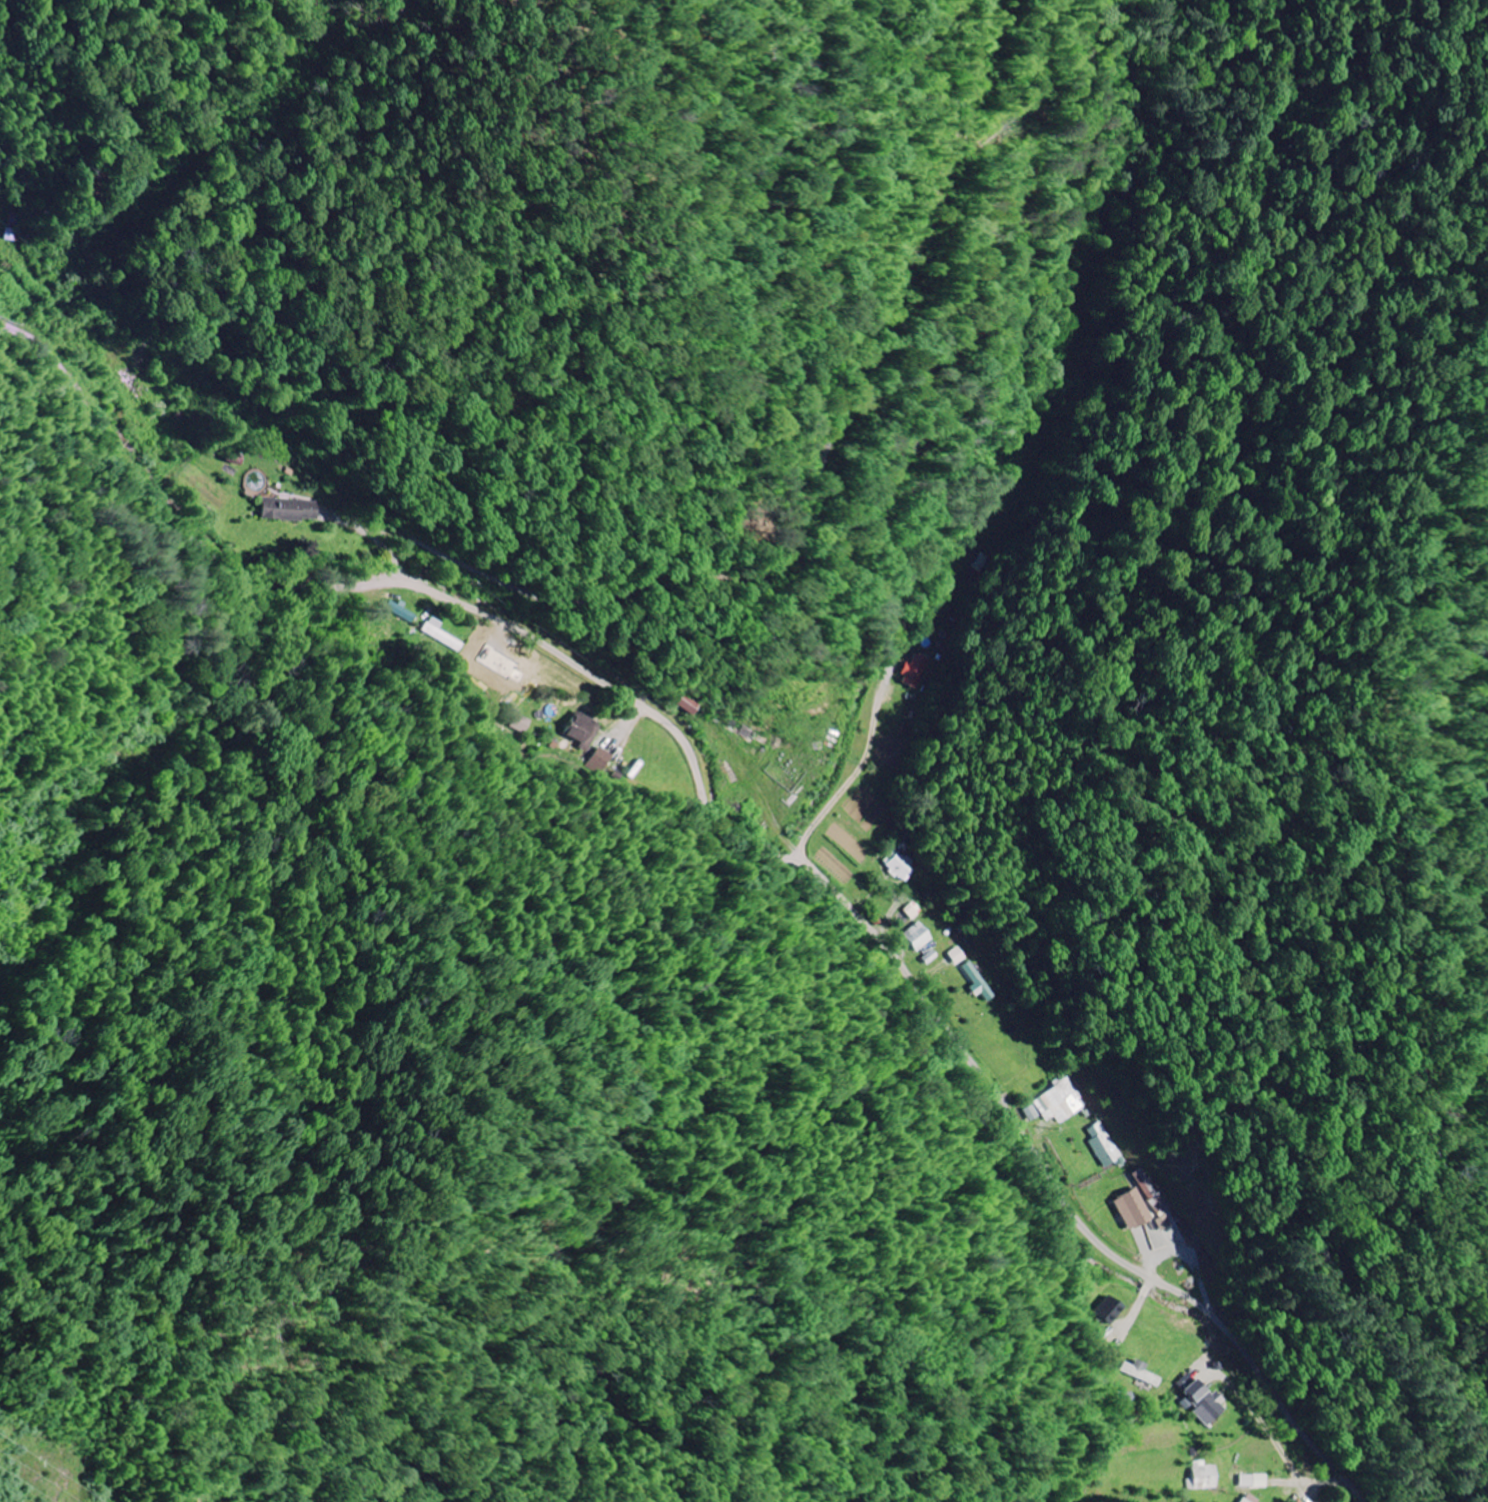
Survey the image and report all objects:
building: (286, 511)
building: (400, 612)
building: (913, 673)
building: (688, 705)
building: (521, 724)
building: (580, 731)
building: (601, 759)
road: (729, 830)
building: (899, 866)
building: (912, 910)
building: (916, 937)
building: (956, 955)
building: (976, 981)
building: (1061, 1102)
building: (1031, 1113)
building: (1104, 1145)
building: (1130, 1209)
building: (1164, 1223)
building: (1109, 1311)
building: (1140, 1373)
building: (1201, 1402)
building: (1201, 1477)
building: (1253, 1481)
building: (1250, 1499)

